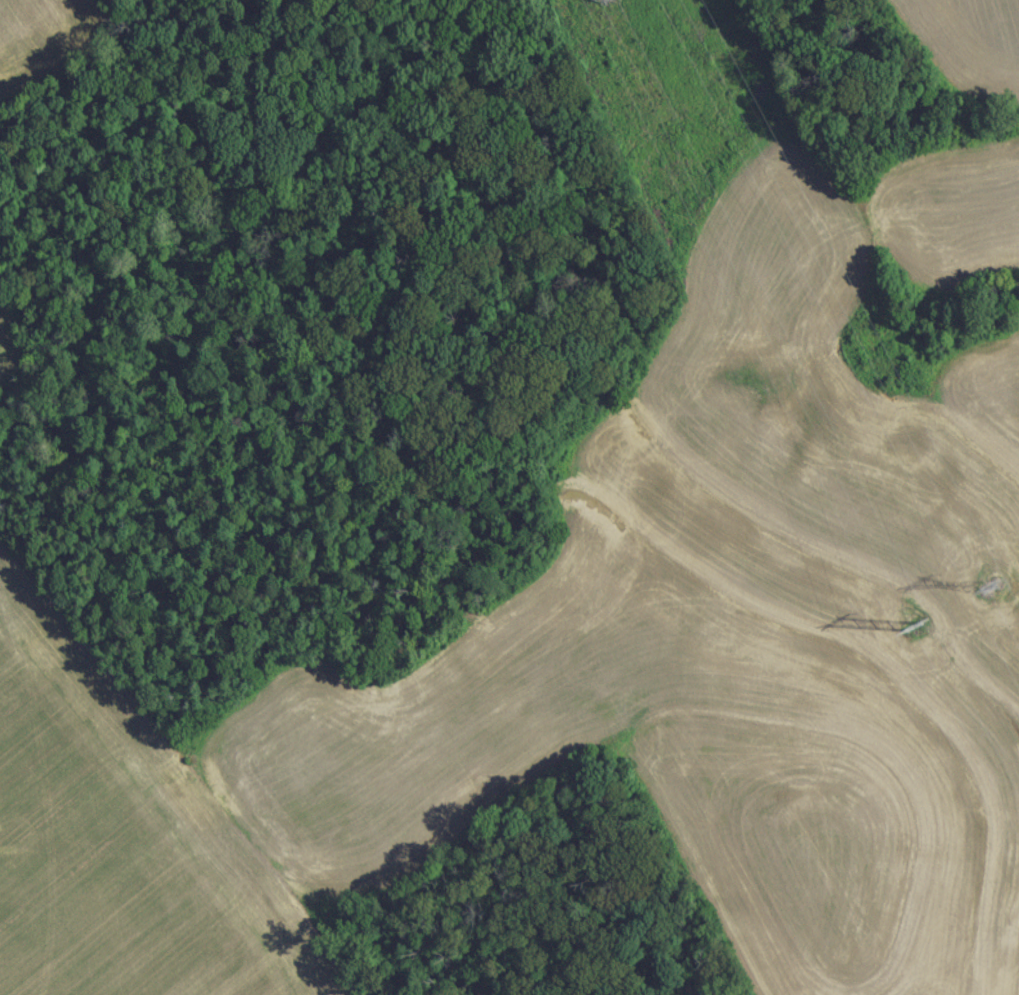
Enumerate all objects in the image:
power tower: (592, 2)
power tower: (990, 595)
power tower: (910, 634)

